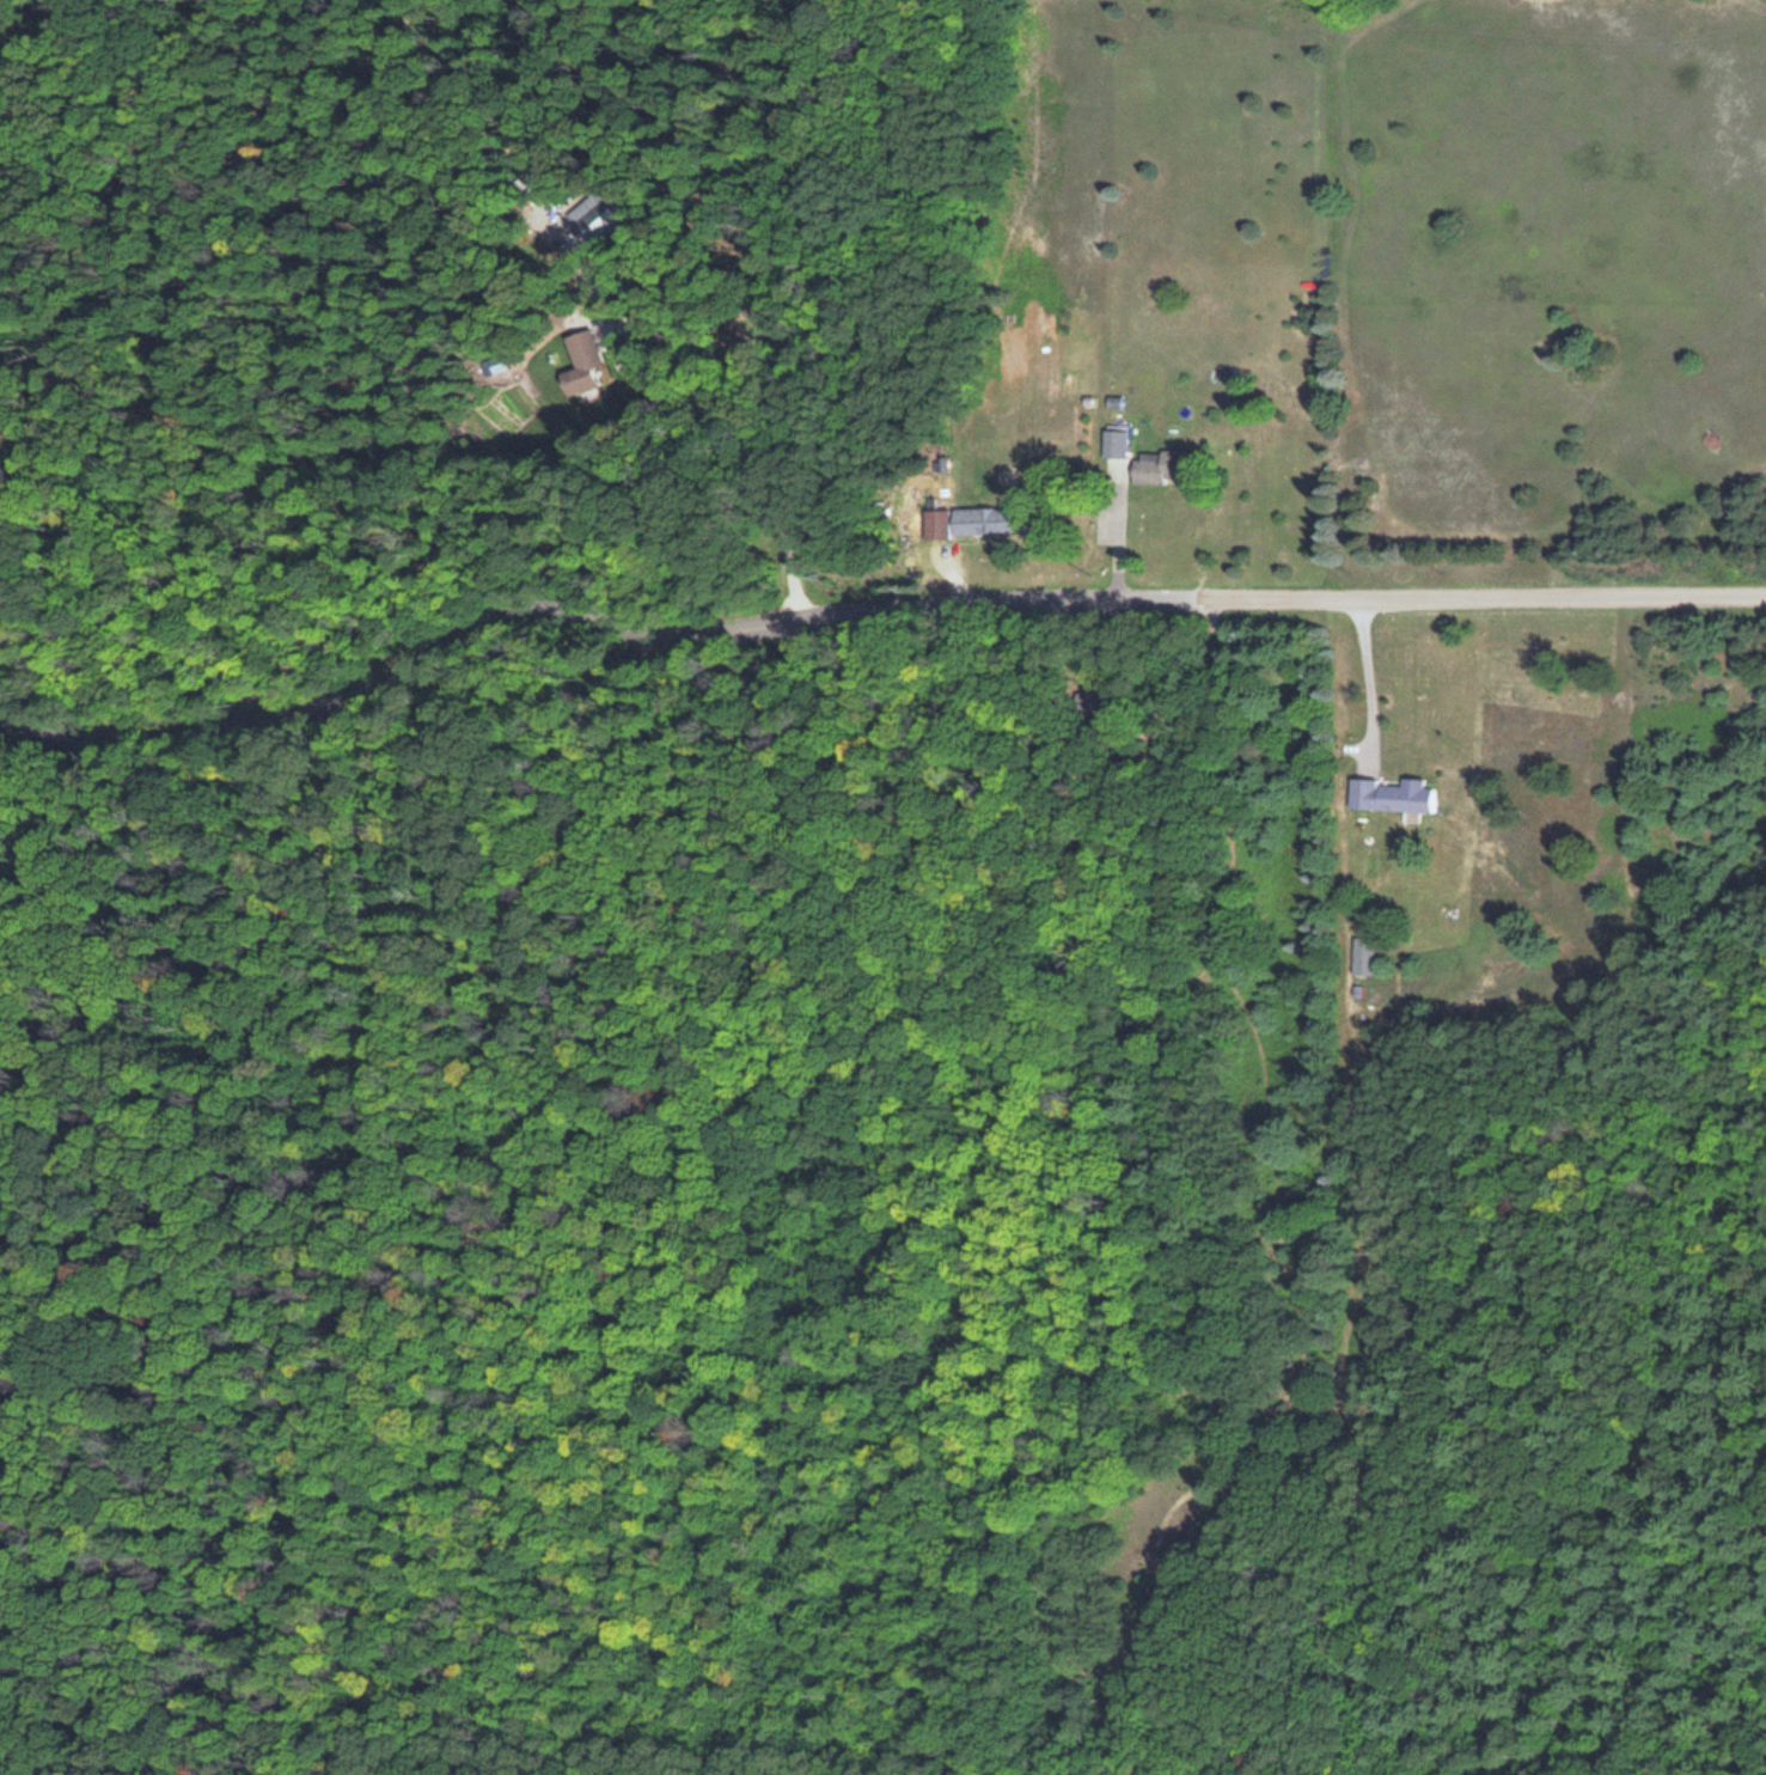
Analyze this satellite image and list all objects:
road: (1332, 18)
building: (588, 212)
building: (580, 360)
building: (1114, 441)
road: (1369, 453)
building: (1157, 465)
building: (985, 519)
building: (935, 521)
road: (862, 610)
building: (1391, 794)
road: (1282, 1214)

